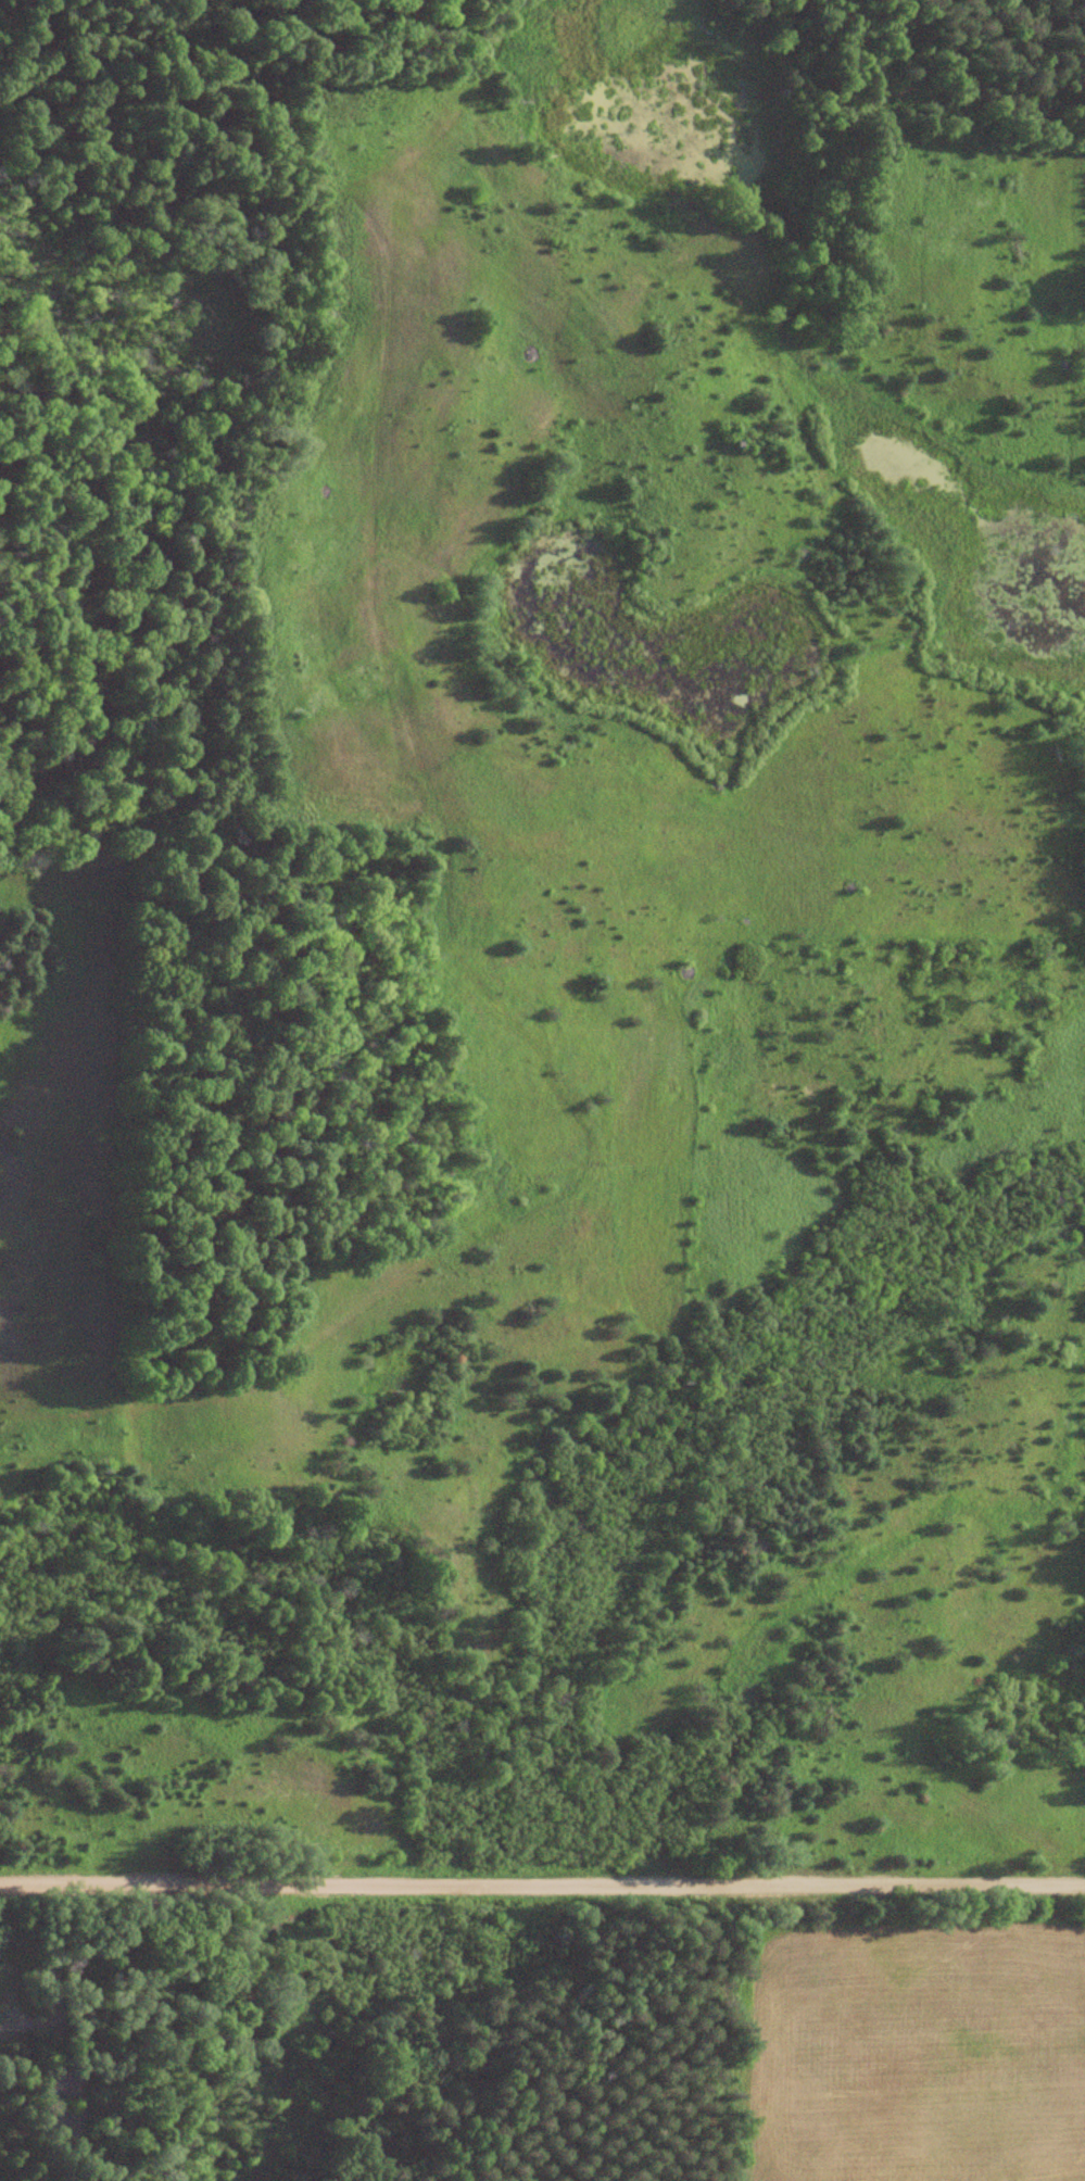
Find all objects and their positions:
road: (542, 1884)

